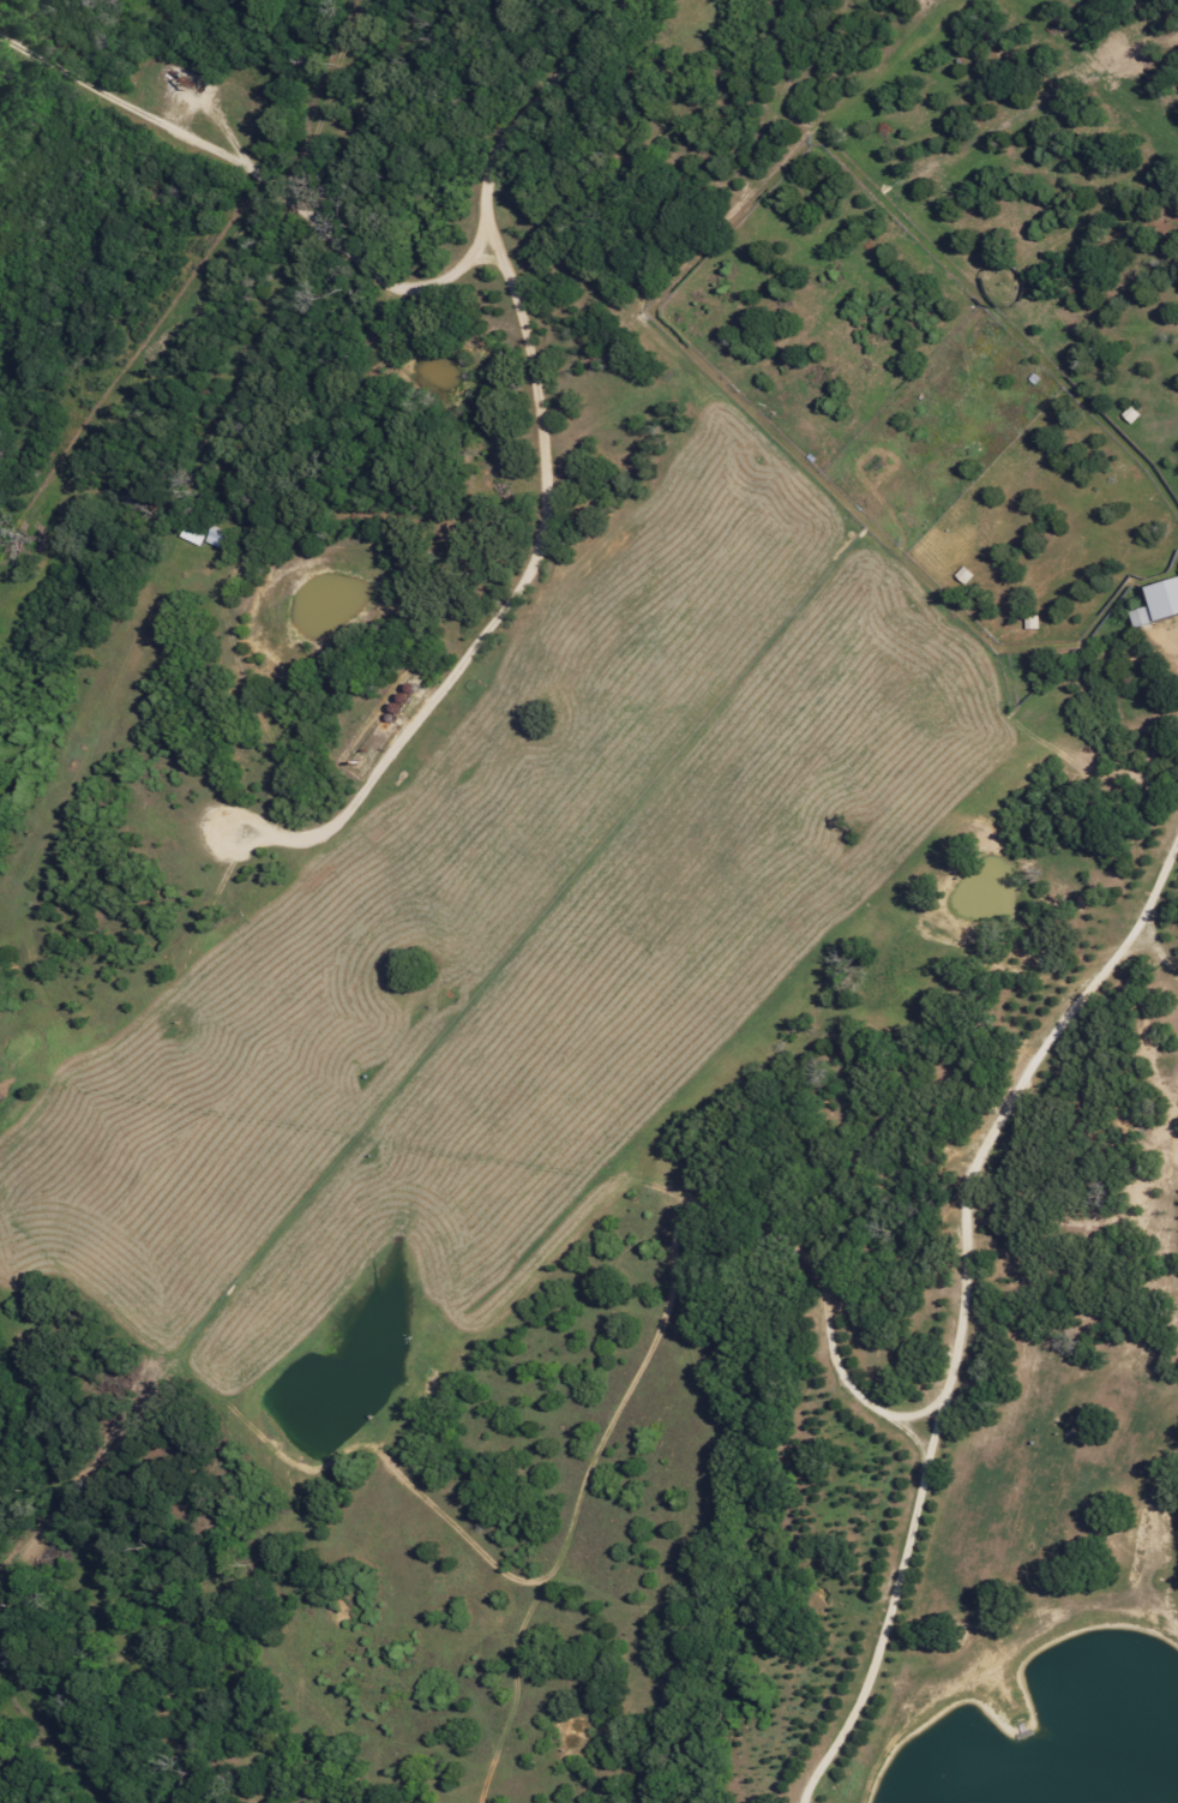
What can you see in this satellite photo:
petroleum well: (180, 83)
building: (1158, 603)

